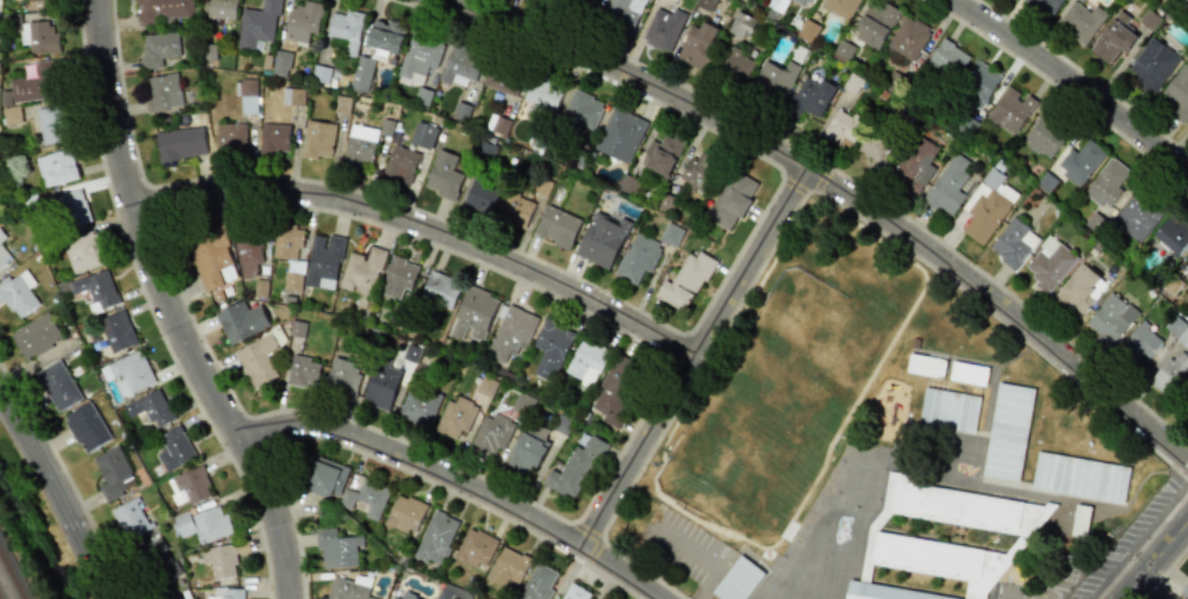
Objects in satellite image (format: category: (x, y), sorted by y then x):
building: (553, 0)
building: (1187, 0)
building: (806, 1)
building: (584, 4)
building: (840, 6)
building: (1044, 6)
building: (222, 8)
building: (162, 10)
building: (623, 10)
building: (301, 20)
building: (1080, 21)
building: (875, 23)
building: (257, 24)
building: (744, 24)
building: (346, 29)
building: (663, 29)
building: (808, 30)
building: (386, 35)
building: (38, 37)
building: (908, 37)
building: (1113, 37)
building: (697, 44)
building: (158, 48)
building: (419, 56)
building: (947, 57)
building: (281, 63)
building: (460, 64)
building: (736, 64)
building: (1153, 64)
building: (321, 73)
building: (362, 74)
building: (775, 77)
building: (502, 80)
building: (978, 81)
building: (39, 82)
road: (1071, 82)
building: (162, 91)
building: (1176, 92)
building: (248, 95)
building: (811, 95)
building: (293, 96)
building: (540, 98)
building: (583, 110)
building: (1010, 110)
building: (11, 114)
building: (52, 124)
building: (498, 125)
building: (841, 127)
building: (1045, 133)
building: (423, 135)
building: (621, 135)
building: (231, 137)
building: (274, 138)
building: (318, 139)
building: (875, 141)
building: (360, 143)
building: (178, 144)
building: (661, 154)
building: (916, 161)
building: (1080, 161)
building: (400, 164)
building: (56, 168)
building: (696, 170)
building: (443, 175)
building: (1106, 182)
building: (947, 186)
road: (835, 189)
building: (480, 195)
building: (732, 200)
building: (987, 205)
building: (68, 210)
building: (515, 210)
building: (1137, 216)
road: (862, 220)
building: (556, 225)
road: (427, 229)
building: (671, 233)
building: (1173, 233)
building: (1, 236)
building: (602, 239)
building: (1013, 243)
building: (82, 250)
building: (247, 250)
building: (290, 252)
building: (4, 257)
building: (637, 257)
building: (212, 258)
building: (323, 261)
building: (1049, 264)
building: (1187, 264)
building: (361, 269)
building: (398, 277)
building: (685, 281)
building: (97, 287)
building: (438, 288)
building: (1078, 291)
building: (18, 292)
road: (167, 308)
building: (474, 314)
building: (1109, 318)
building: (241, 320)
building: (1178, 330)
building: (117, 331)
building: (510, 333)
building: (35, 335)
building: (1140, 343)
building: (551, 348)
road: (698, 360)
building: (257, 361)
building: (585, 362)
building: (926, 366)
building: (303, 370)
building: (127, 373)
building: (1170, 373)
building: (969, 374)
building: (342, 376)
building: (57, 385)
building: (381, 386)
building: (616, 389)
building: (418, 406)
building: (150, 407)
building: (948, 410)
building: (1186, 412)
building: (455, 417)
building: (86, 426)
building: (1007, 431)
building: (491, 435)
building: (528, 448)
building: (174, 449)
building: (574, 468)
building: (113, 473)
building: (325, 476)
building: (1080, 478)
road: (461, 480)
building: (188, 486)
road: (57, 494)
building: (372, 498)
building: (347, 499)
building: (405, 513)
building: (131, 518)
building: (203, 524)
building: (436, 537)
building: (941, 543)
railway: (29, 547)
building: (241, 547)
building: (336, 548)
building: (474, 548)
building: (219, 560)
road: (705, 561)
road: (1157, 561)
building: (153, 563)
building: (508, 566)
railway: (12, 573)
building: (739, 580)
building: (537, 582)
building: (1186, 587)
building: (349, 588)
building: (449, 592)
building: (574, 592)
building: (226, 593)
building: (408, 595)
railway: (0, 597)
building: (179, 598)
building: (393, 598)

